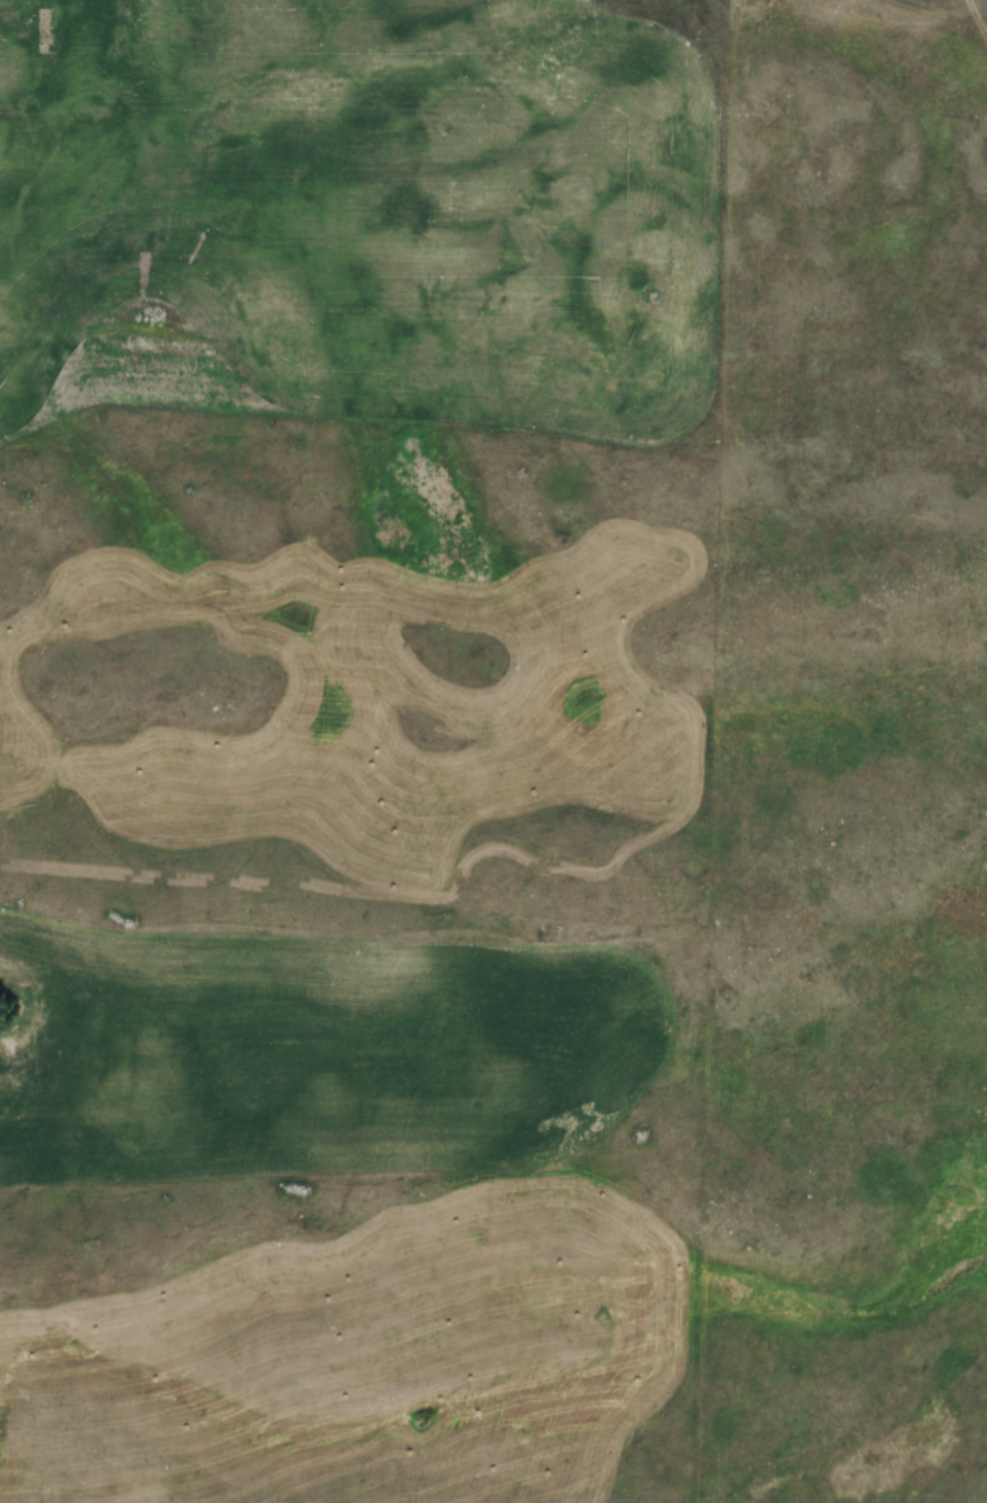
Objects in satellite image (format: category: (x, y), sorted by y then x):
road: (979, 15)

